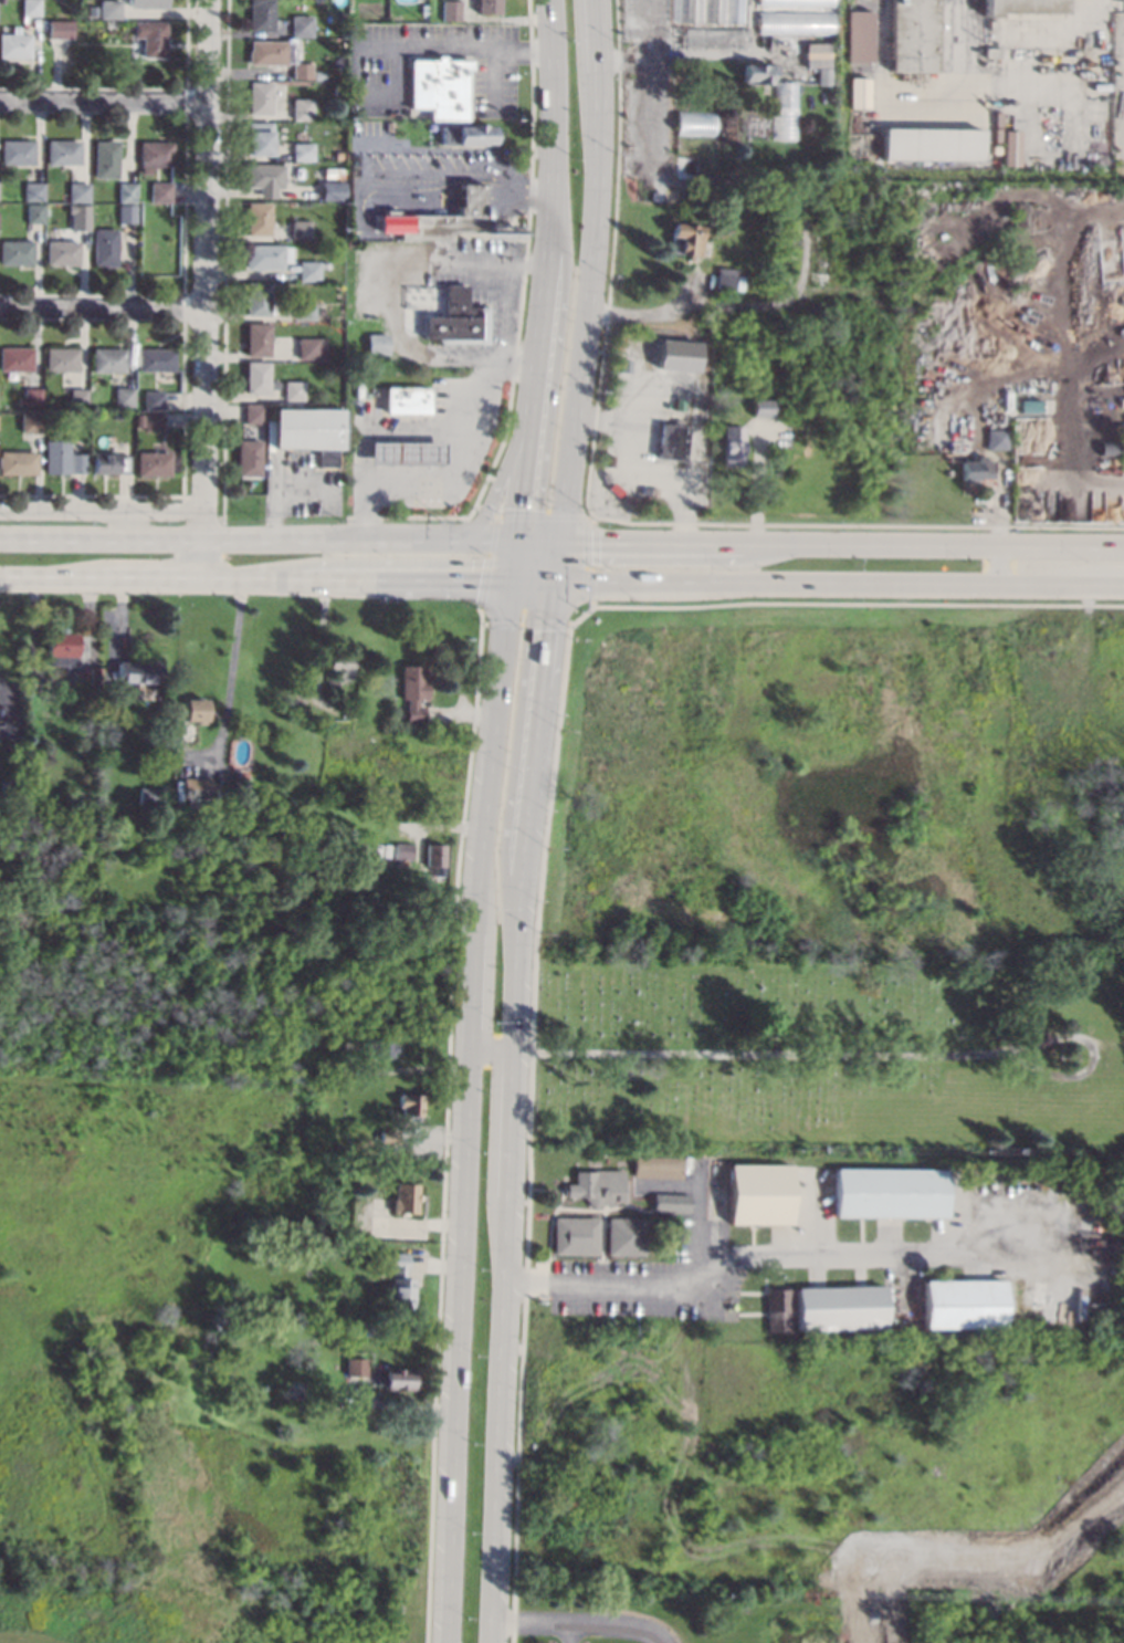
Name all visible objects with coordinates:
building: (795, 2)
building: (148, 3)
building: (486, 6)
building: (1021, 6)
building: (30, 8)
building: (111, 9)
building: (449, 10)
building: (711, 11)
building: (261, 14)
building: (792, 22)
building: (301, 25)
building: (991, 25)
building: (61, 29)
building: (859, 35)
building: (913, 35)
building: (715, 36)
building: (151, 38)
building: (15, 43)
road: (477, 48)
building: (266, 52)
building: (992, 52)
building: (815, 55)
building: (301, 70)
building: (757, 72)
building: (318, 75)
building: (821, 76)
building: (439, 86)
building: (336, 91)
building: (858, 92)
airport: (977, 92)
building: (784, 94)
building: (260, 97)
road: (103, 101)
building: (302, 108)
building: (997, 118)
building: (694, 122)
building: (466, 134)
building: (997, 134)
building: (260, 139)
building: (1106, 139)
building: (932, 144)
building: (695, 145)
building: (1010, 147)
building: (302, 150)
building: (995, 150)
building: (15, 151)
building: (63, 153)
building: (155, 155)
building: (337, 155)
building: (105, 158)
building: (332, 171)
building: (264, 177)
building: (33, 190)
building: (330, 190)
building: (160, 191)
building: (127, 192)
building: (76, 193)
road: (548, 212)
building: (34, 213)
building: (389, 213)
building: (127, 214)
building: (80, 217)
building: (259, 219)
building: (458, 220)
building: (300, 229)
building: (685, 239)
building: (105, 247)
building: (15, 252)
building: (62, 253)
building: (264, 255)
road: (590, 269)
building: (307, 271)
building: (727, 279)
road: (207, 291)
building: (256, 299)
road: (104, 307)
building: (305, 312)
road: (648, 314)
building: (458, 318)
building: (256, 338)
building: (377, 343)
building: (311, 347)
building: (676, 355)
building: (15, 358)
building: (61, 358)
building: (107, 359)
building: (156, 359)
building: (258, 378)
building: (293, 390)
building: (123, 396)
building: (137, 396)
building: (77, 397)
building: (30, 398)
building: (153, 400)
building: (406, 400)
building: (759, 408)
building: (253, 412)
building: (116, 415)
building: (138, 420)
building: (153, 420)
building: (30, 421)
building: (309, 432)
building: (994, 440)
building: (3, 441)
building: (671, 442)
building: (732, 446)
building: (1109, 449)
building: (406, 452)
building: (55, 457)
building: (248, 458)
building: (18, 462)
building: (107, 462)
building: (76, 463)
building: (151, 463)
building: (975, 469)
road: (456, 471)
road: (524, 481)
road: (500, 484)
road: (997, 506)
road: (103, 509)
road: (511, 536)
traffic signals: (519, 536)
road: (230, 537)
traffic signals: (559, 537)
road: (841, 541)
road: (555, 561)
road: (998, 564)
road: (275, 582)
traffic signals: (515, 583)
traffic signals: (552, 584)
road: (837, 585)
road: (545, 640)
building: (60, 642)
road: (504, 660)
building: (337, 667)
road: (230, 670)
building: (138, 673)
building: (93, 676)
building: (413, 691)
building: (75, 699)
building: (193, 710)
building: (9, 728)
road: (533, 747)
building: (48, 749)
building: (195, 787)
building: (145, 796)
building: (33, 797)
building: (50, 797)
building: (402, 849)
building: (433, 855)
road: (482, 858)
road: (472, 992)
building: (377, 1047)
park: (824, 1051)
road: (739, 1053)
road: (1091, 1057)
building: (407, 1107)
building: (386, 1137)
building: (656, 1168)
building: (596, 1186)
building: (886, 1193)
building: (758, 1194)
building: (402, 1199)
building: (669, 1202)
road: (506, 1220)
building: (575, 1235)
building: (623, 1236)
road: (859, 1257)
parking lot: (652, 1280)
building: (397, 1283)
road: (634, 1284)
building: (958, 1304)
building: (838, 1306)
building: (776, 1309)
road: (456, 1346)
building: (354, 1365)
building: (395, 1378)
building: (281, 1404)
road: (393, 1409)
road: (578, 1623)
road: (568, 1633)

